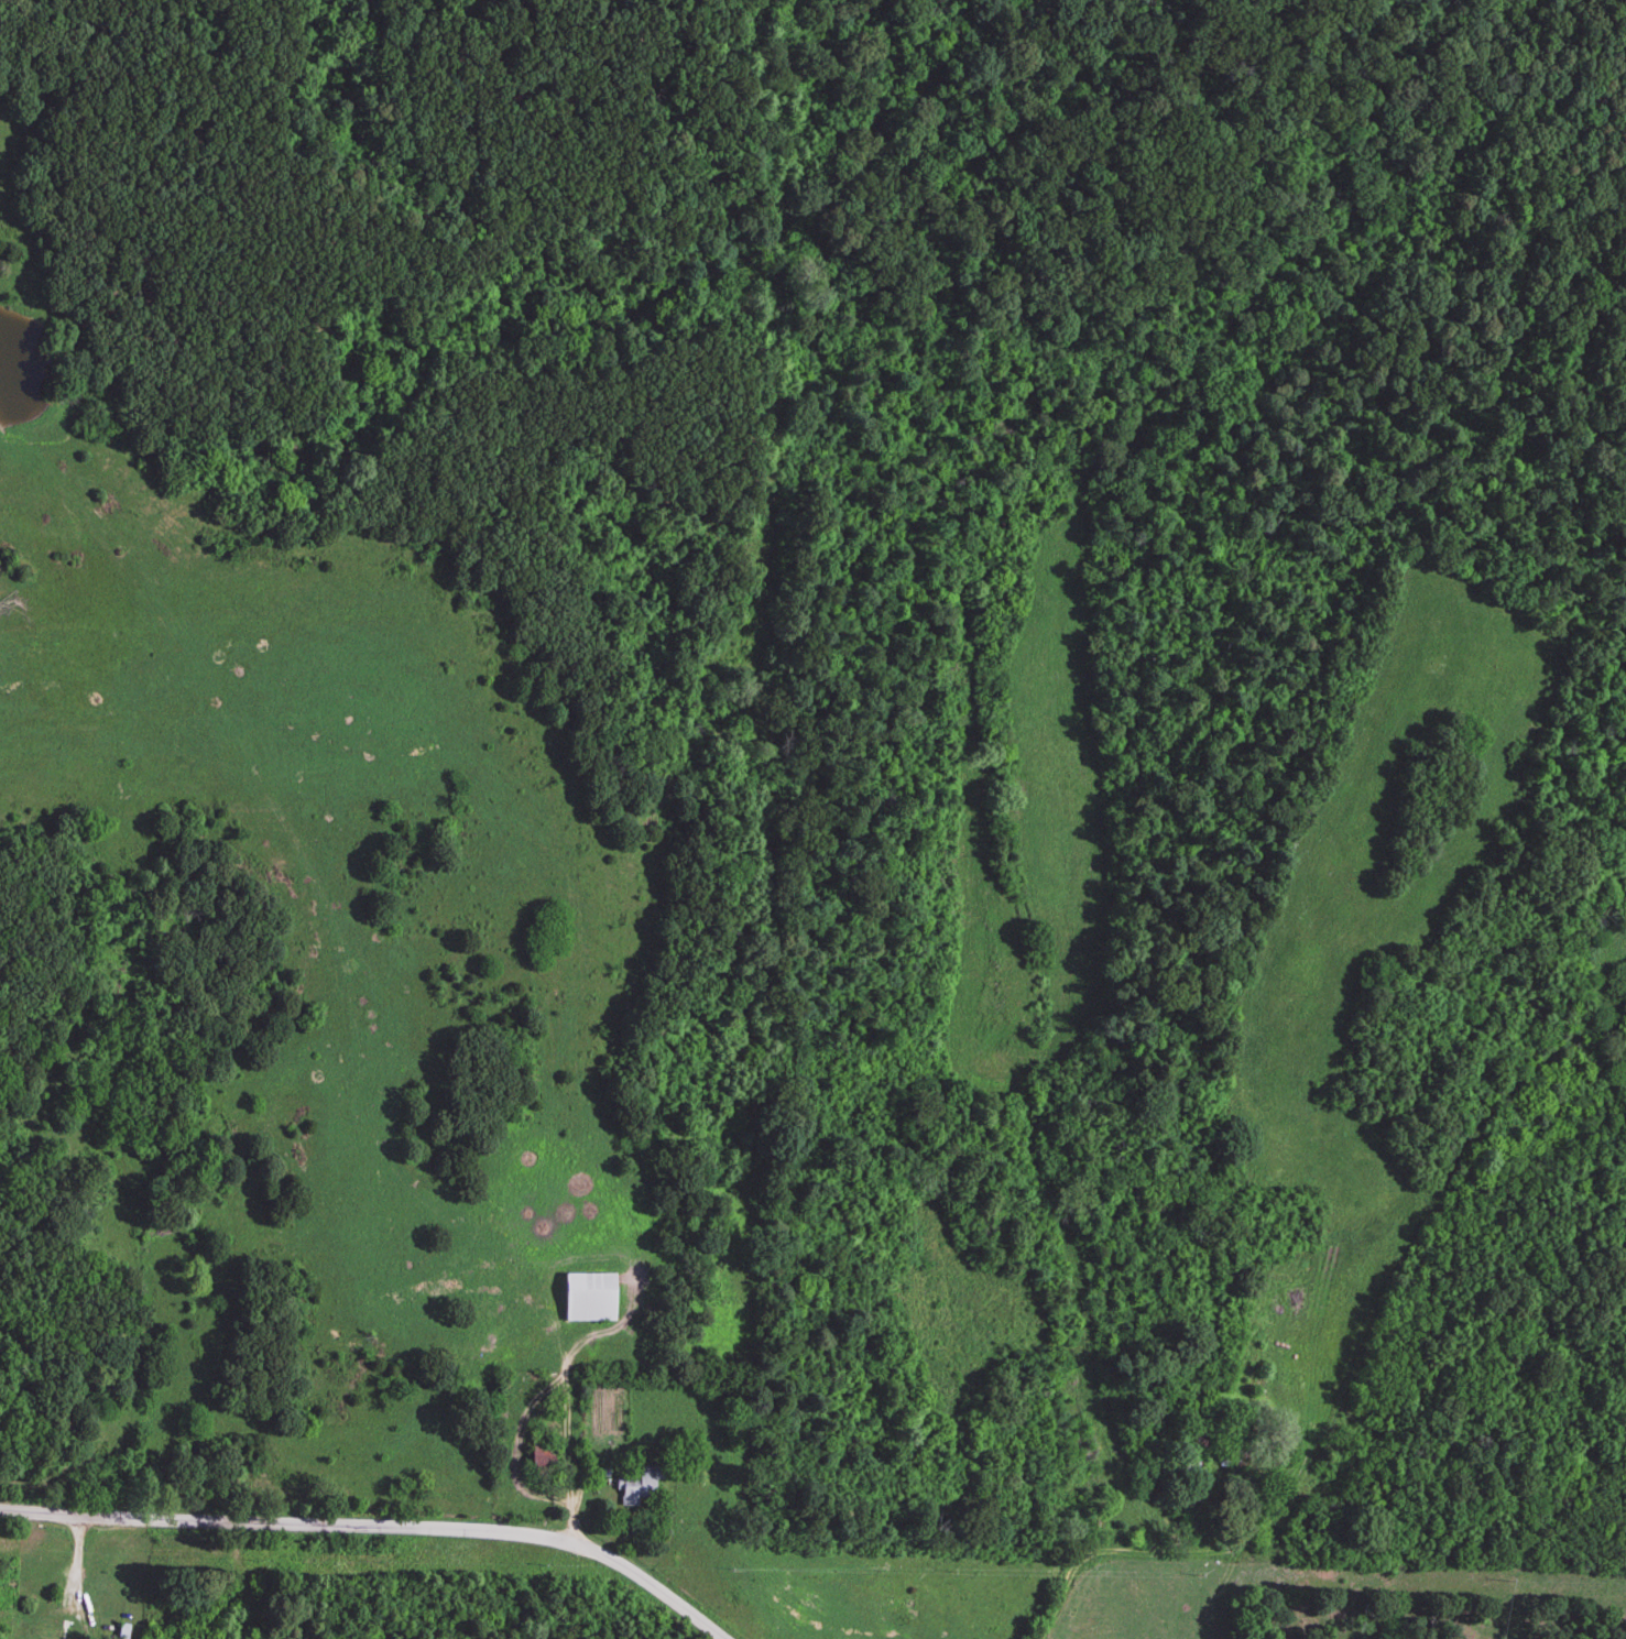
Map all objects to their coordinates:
building: (588, 1298)
building: (640, 1486)
road: (370, 1529)
road: (1098, 1551)
building: (123, 1631)

